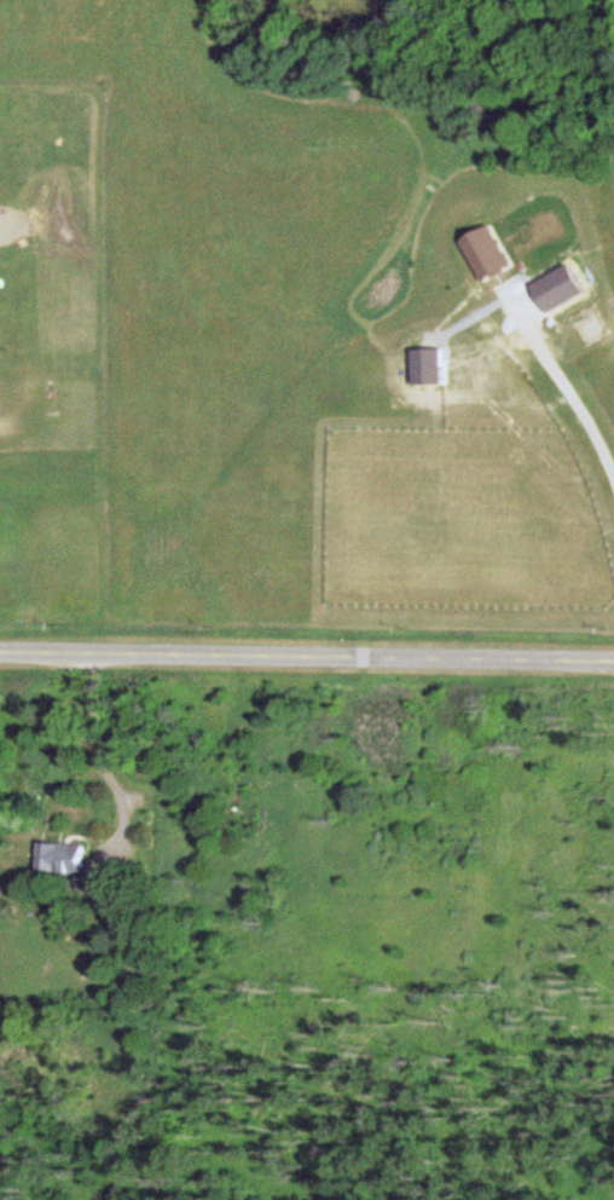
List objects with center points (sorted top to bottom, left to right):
road: (307, 659)
building: (69, 864)

